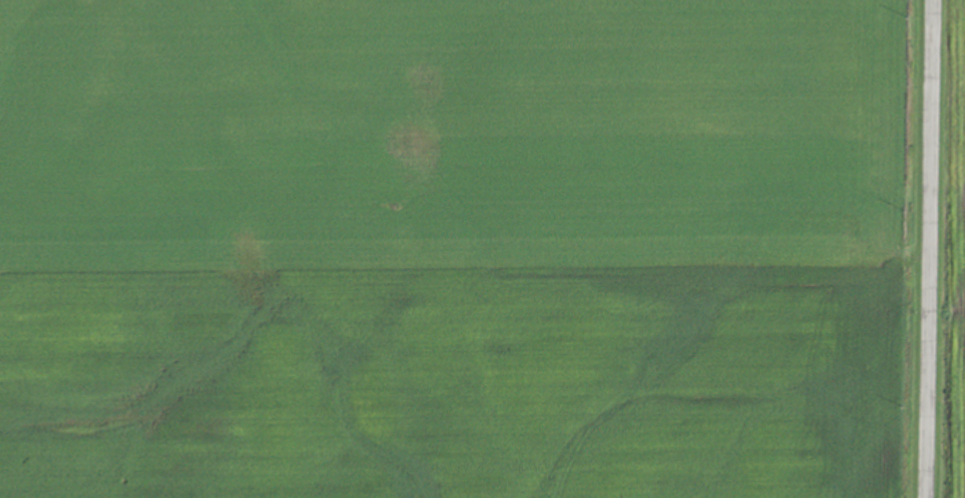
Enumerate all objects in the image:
road: (925, 249)
crop: (949, 256)

